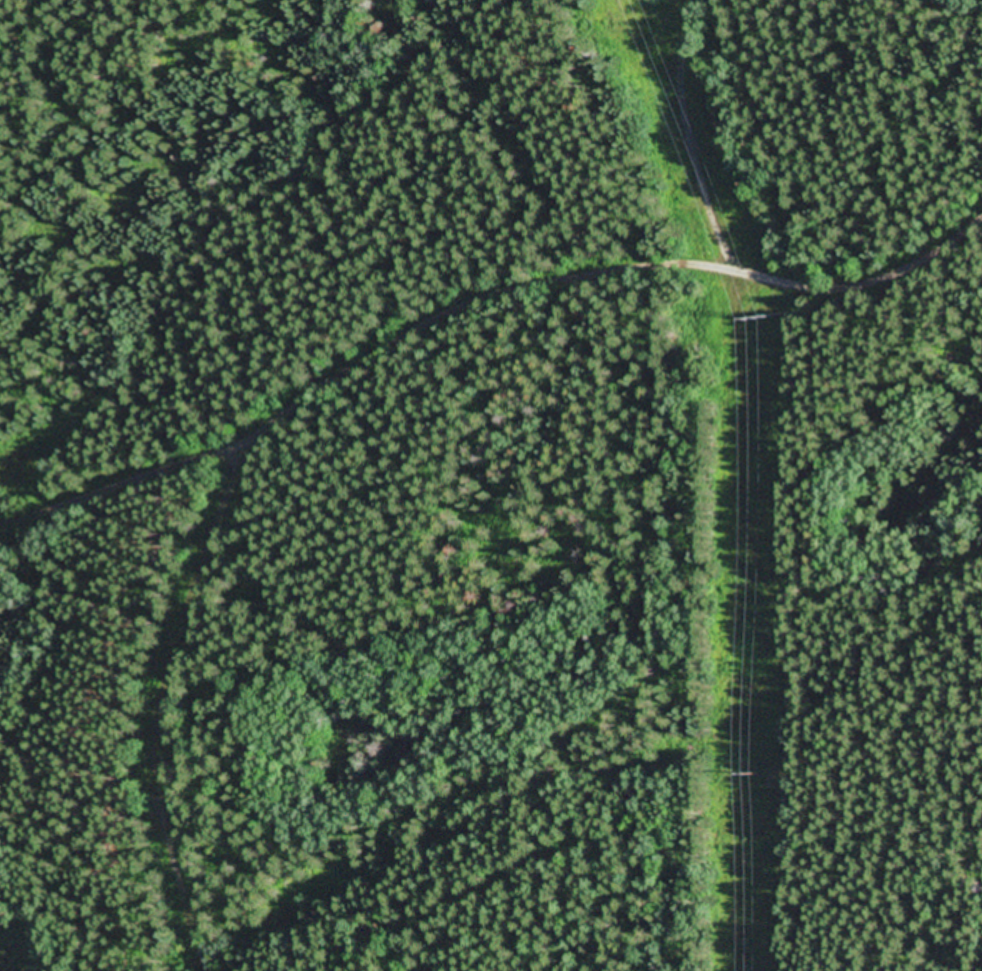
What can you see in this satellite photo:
road: (584, 283)
power tower: (758, 319)
road: (736, 400)
road: (104, 489)
road: (152, 718)
power tower: (751, 775)
road: (506, 919)

